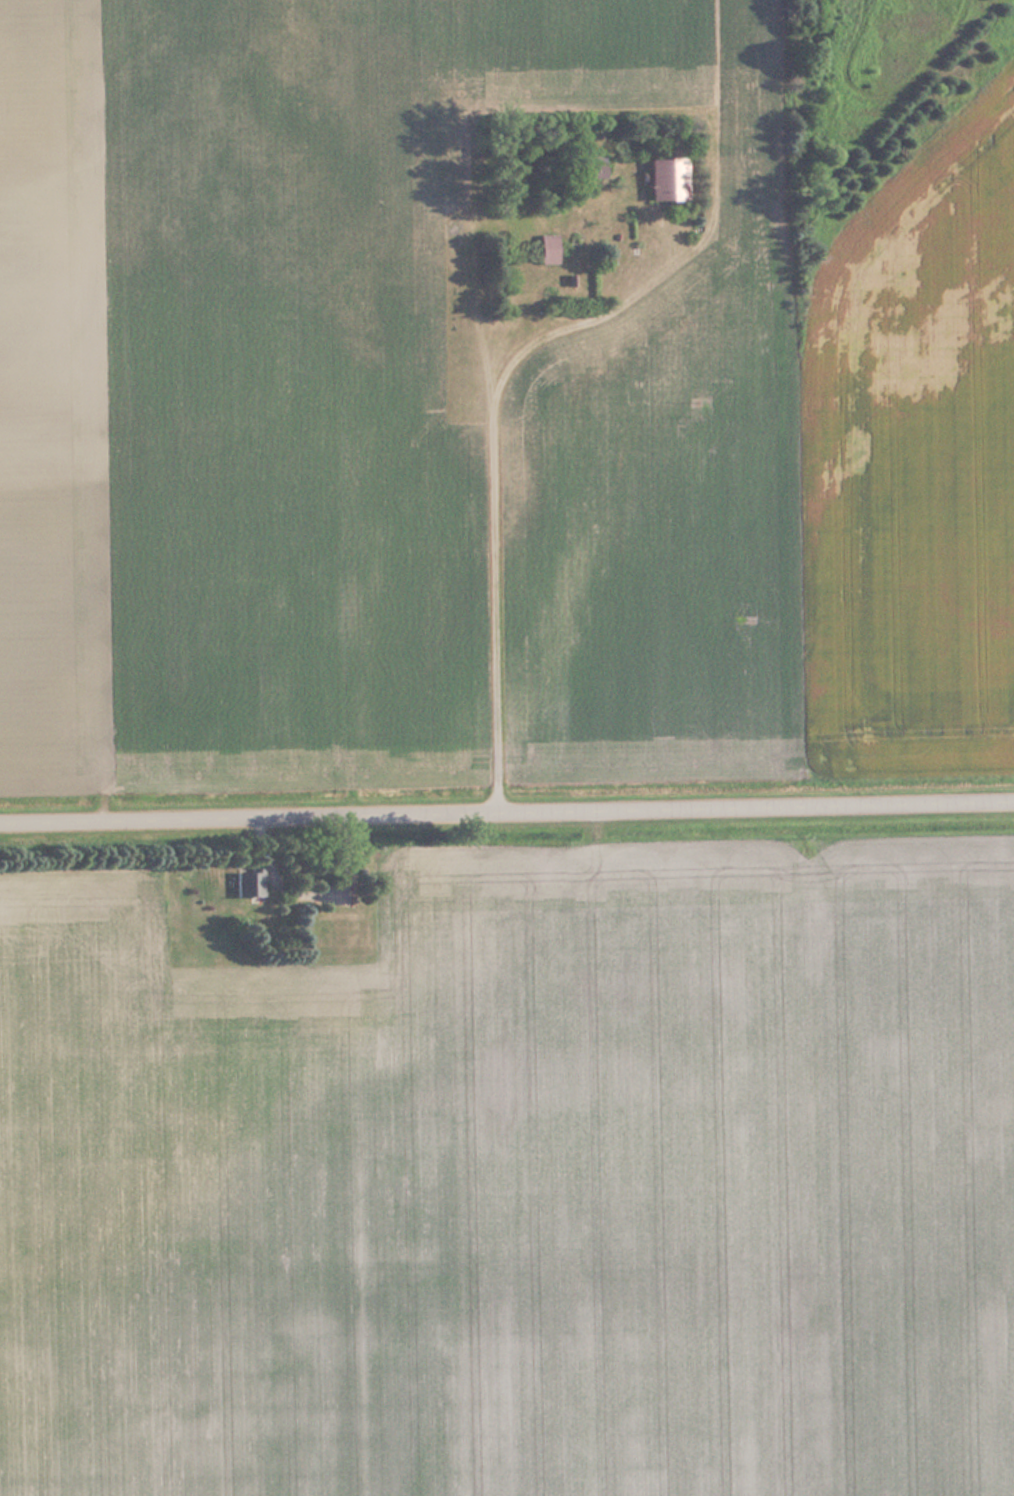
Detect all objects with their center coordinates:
building: (591, 164)
building: (665, 178)
building: (546, 248)
road: (507, 804)
building: (248, 882)

